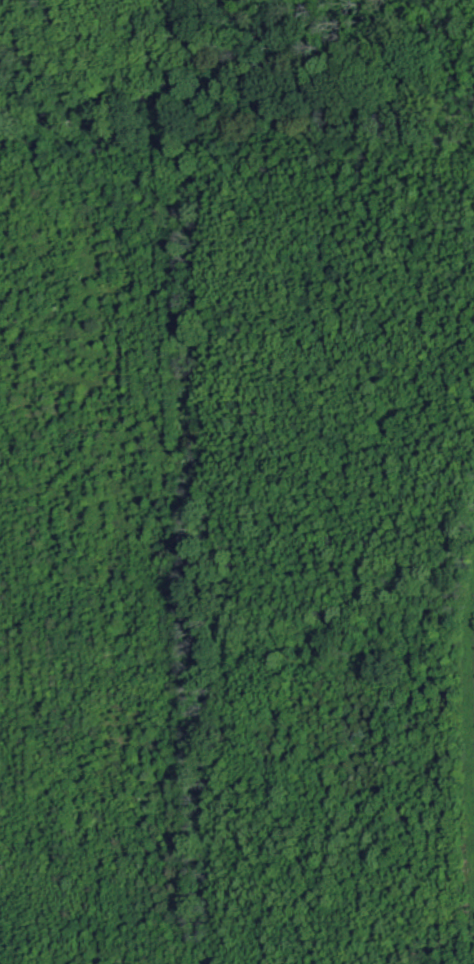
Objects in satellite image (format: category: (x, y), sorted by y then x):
park: (237, 482)

